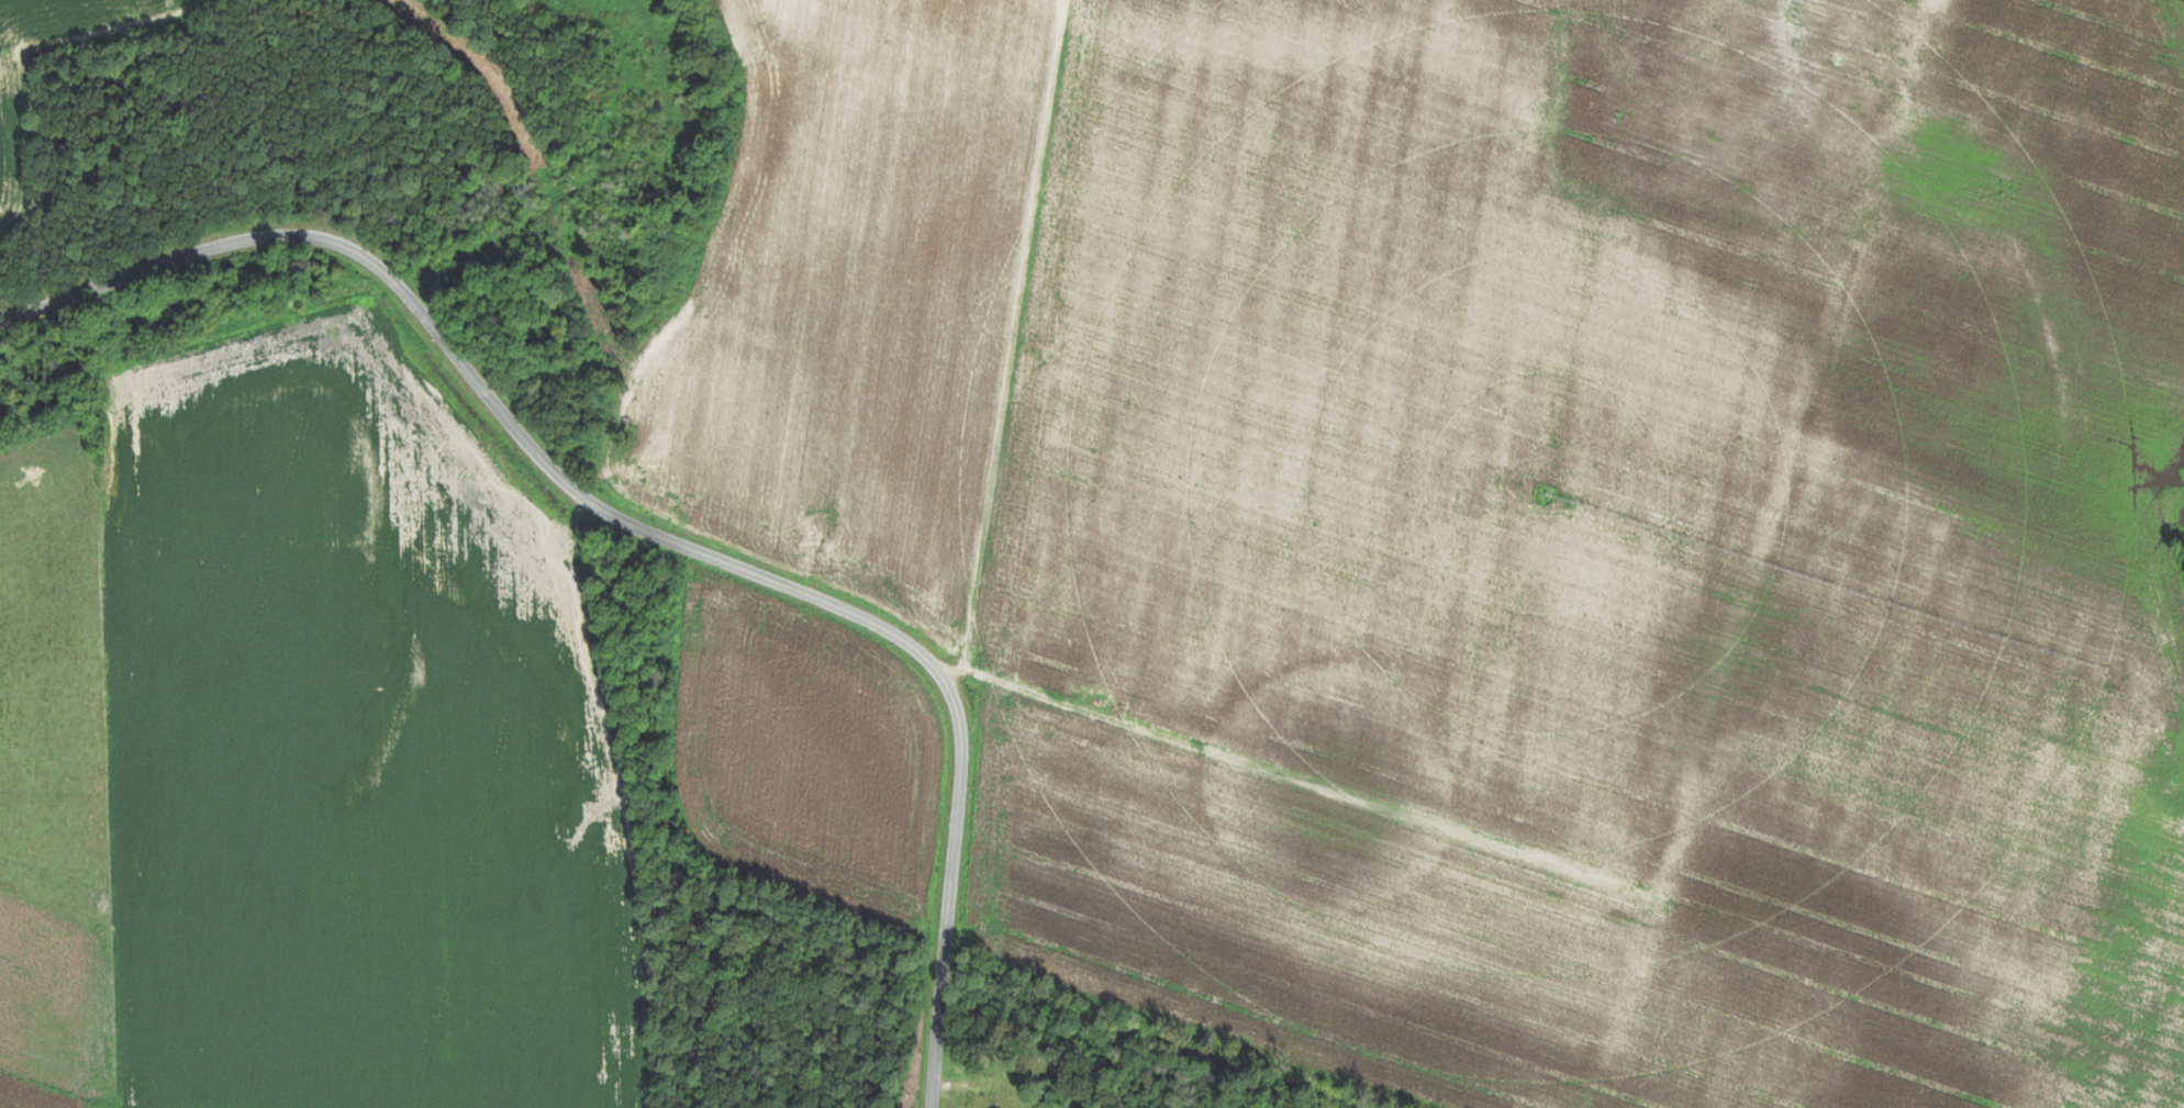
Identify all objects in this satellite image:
crop: (2033, 280)
crop: (1253, 389)
road: (643, 526)
crop: (1925, 829)
building: (1050, 1087)
building: (1003, 1098)

